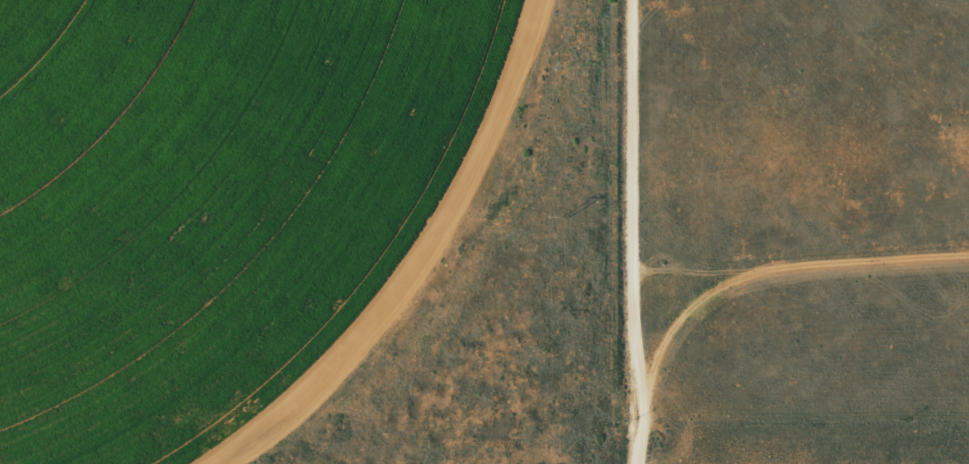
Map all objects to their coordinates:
power tower: (562, 216)
road: (613, 232)

